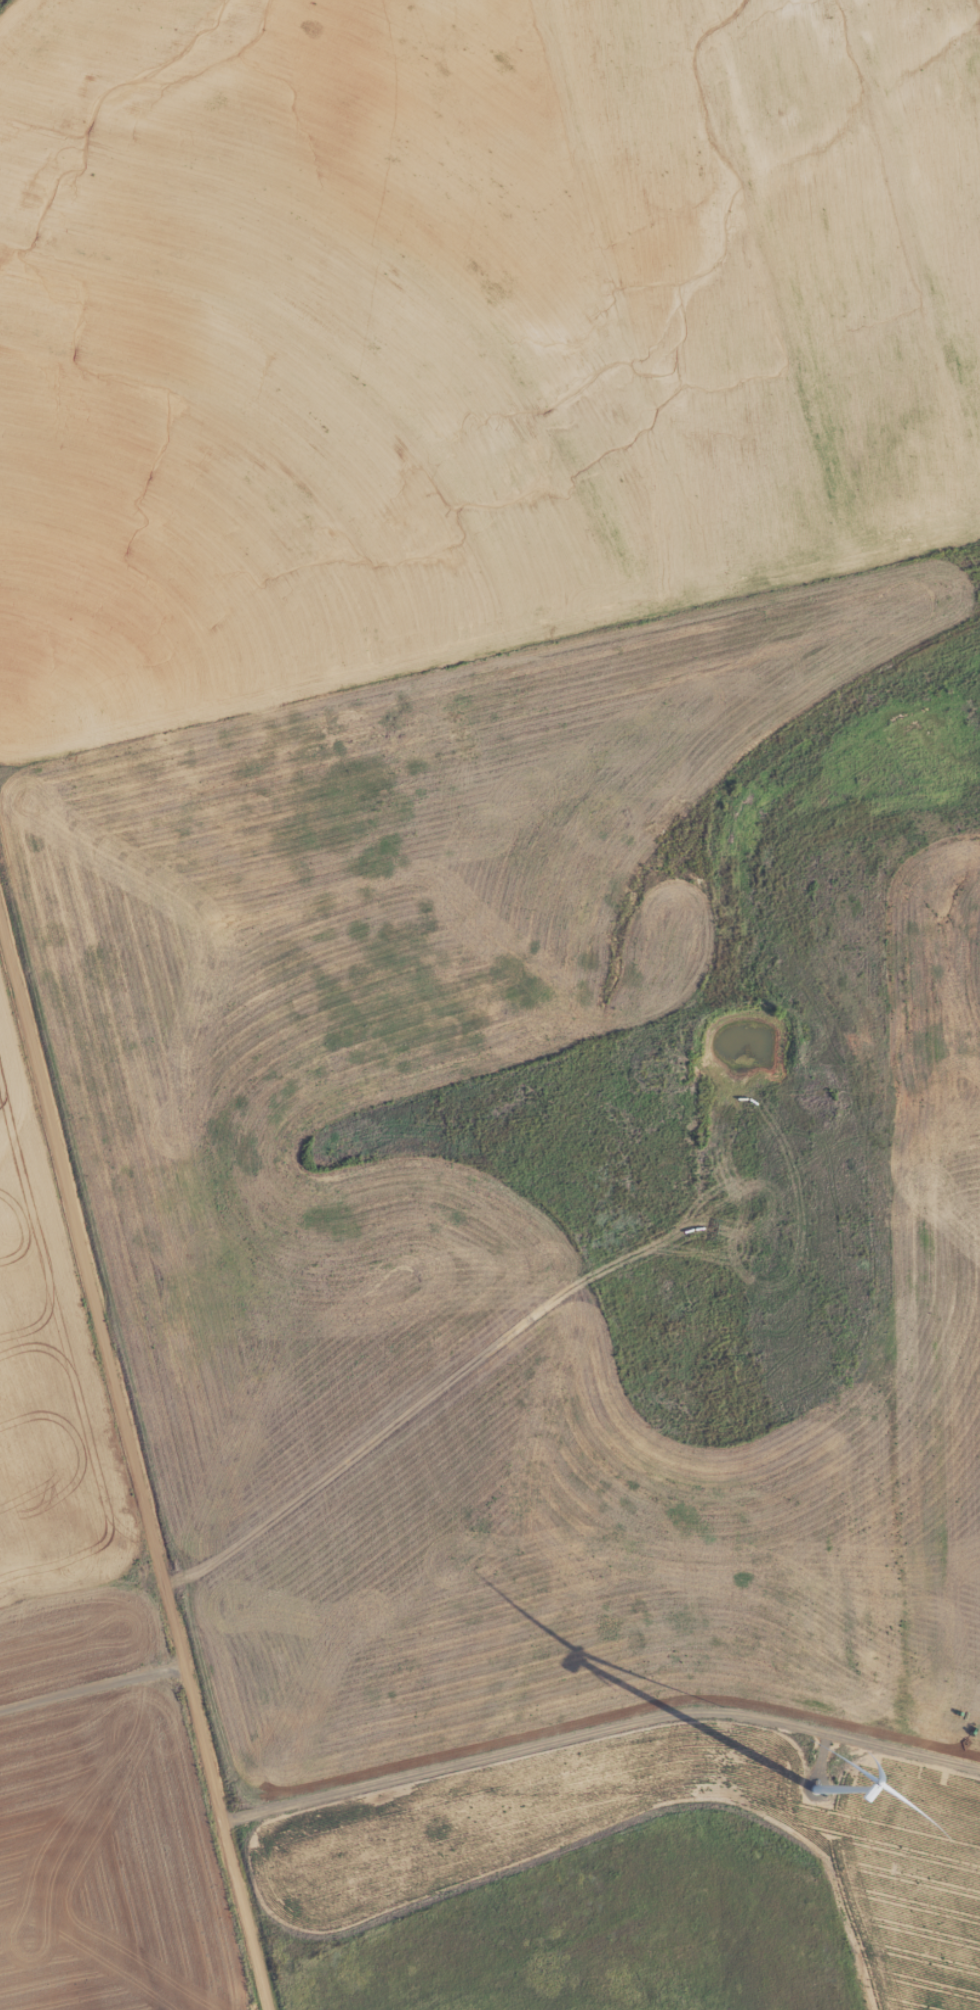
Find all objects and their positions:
road: (134, 1464)
wind turbine: (815, 1793)

